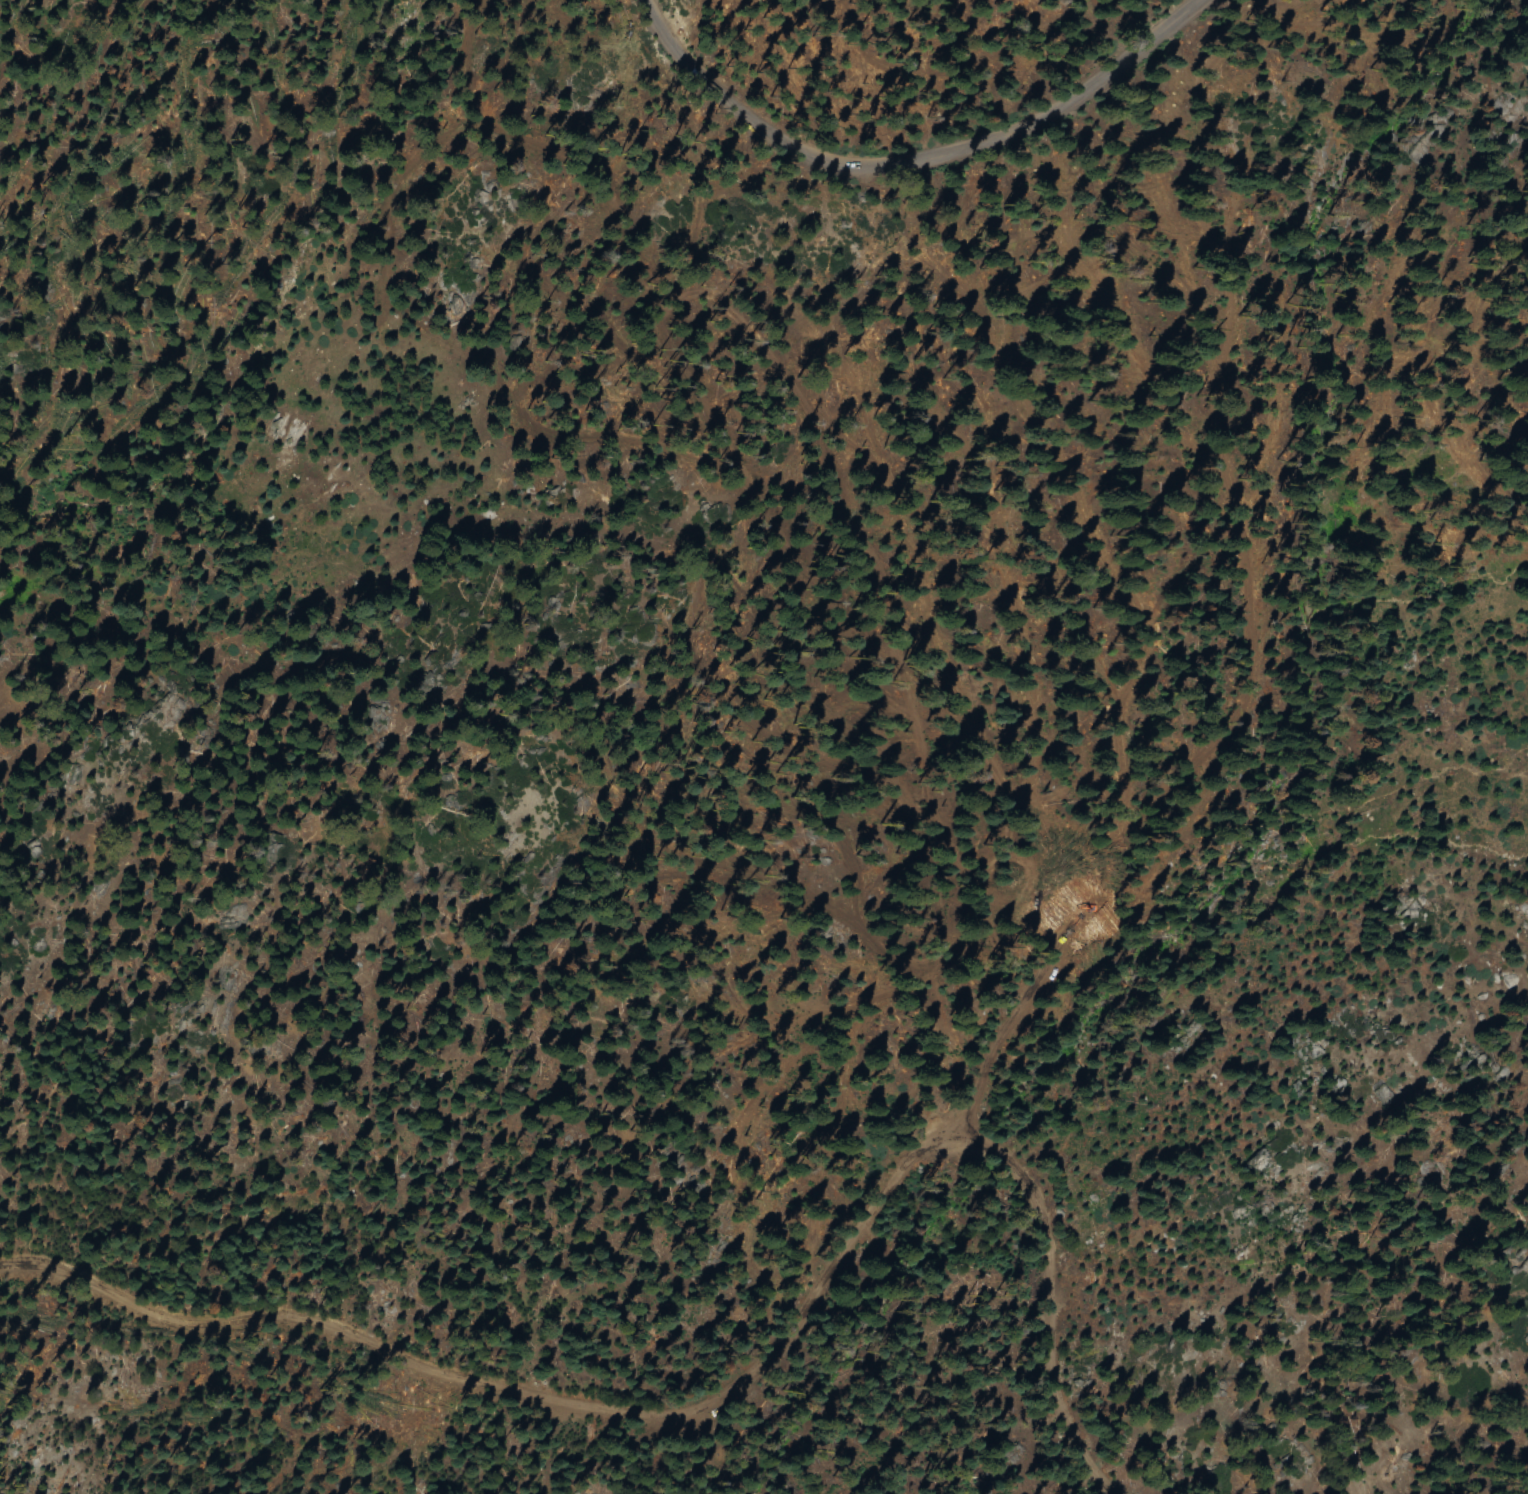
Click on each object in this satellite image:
road: (912, 165)
road: (969, 1224)
road: (735, 1394)

